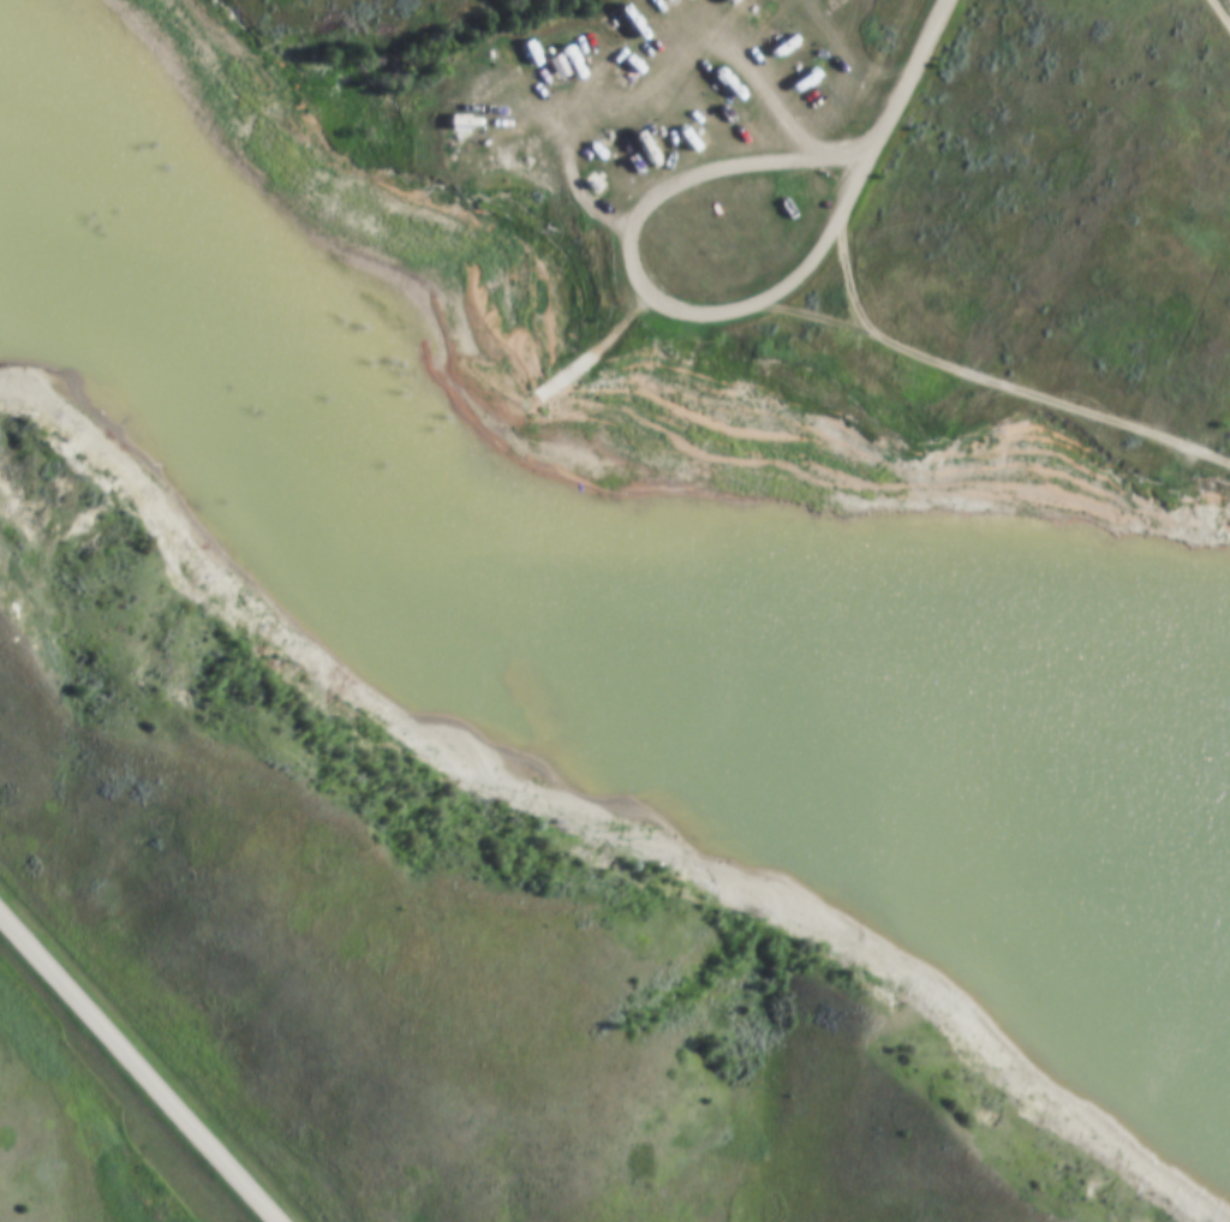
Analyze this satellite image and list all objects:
building: (665, 0)
road: (1228, 1)
building: (646, 8)
building: (556, 67)
road: (915, 67)
road: (644, 287)
road: (628, 332)
road: (567, 381)
road: (138, 1066)

